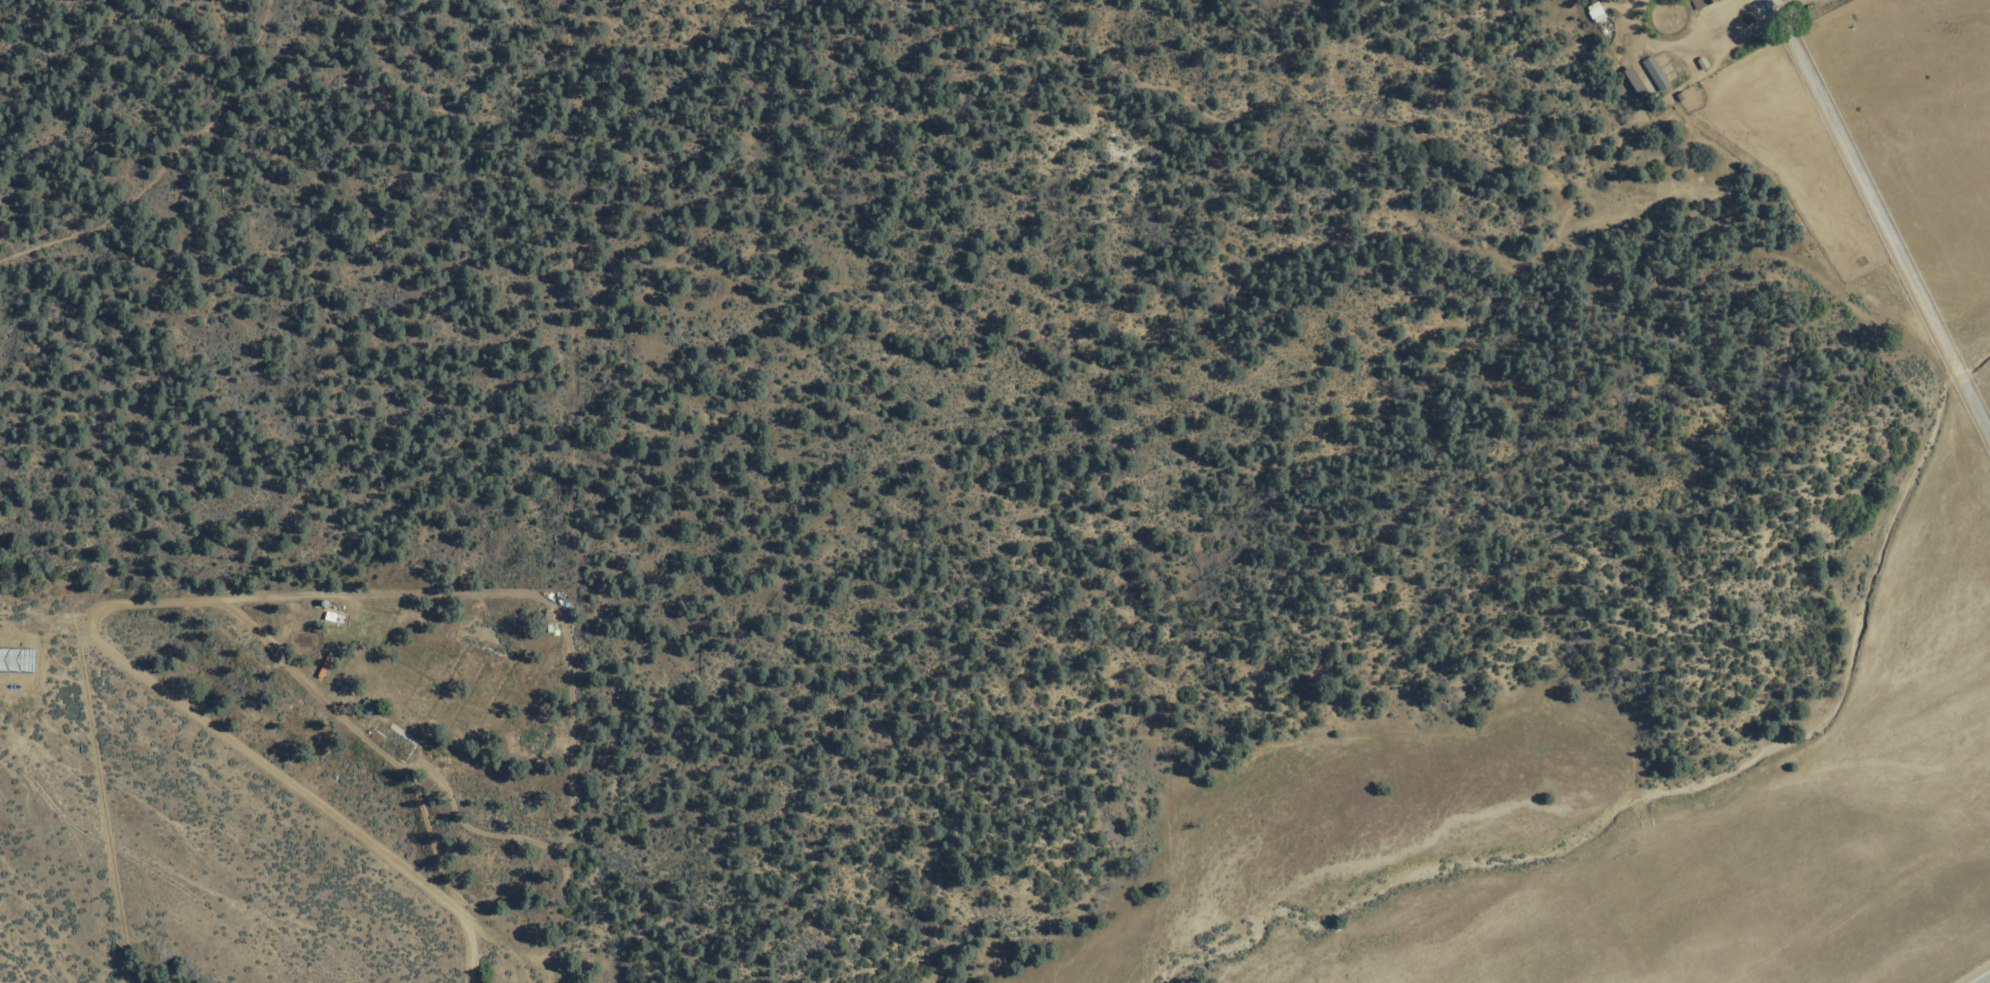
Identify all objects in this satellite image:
building: (1700, 3)
building: (1594, 11)
road: (1676, 42)
building: (1654, 74)
road: (167, 165)
road: (1878, 217)
road: (1883, 579)
road: (395, 593)
storage tank: (320, 600)
building: (328, 614)
building: (365, 705)
road: (186, 707)
road: (1755, 739)
road: (416, 787)
road: (1988, 982)

